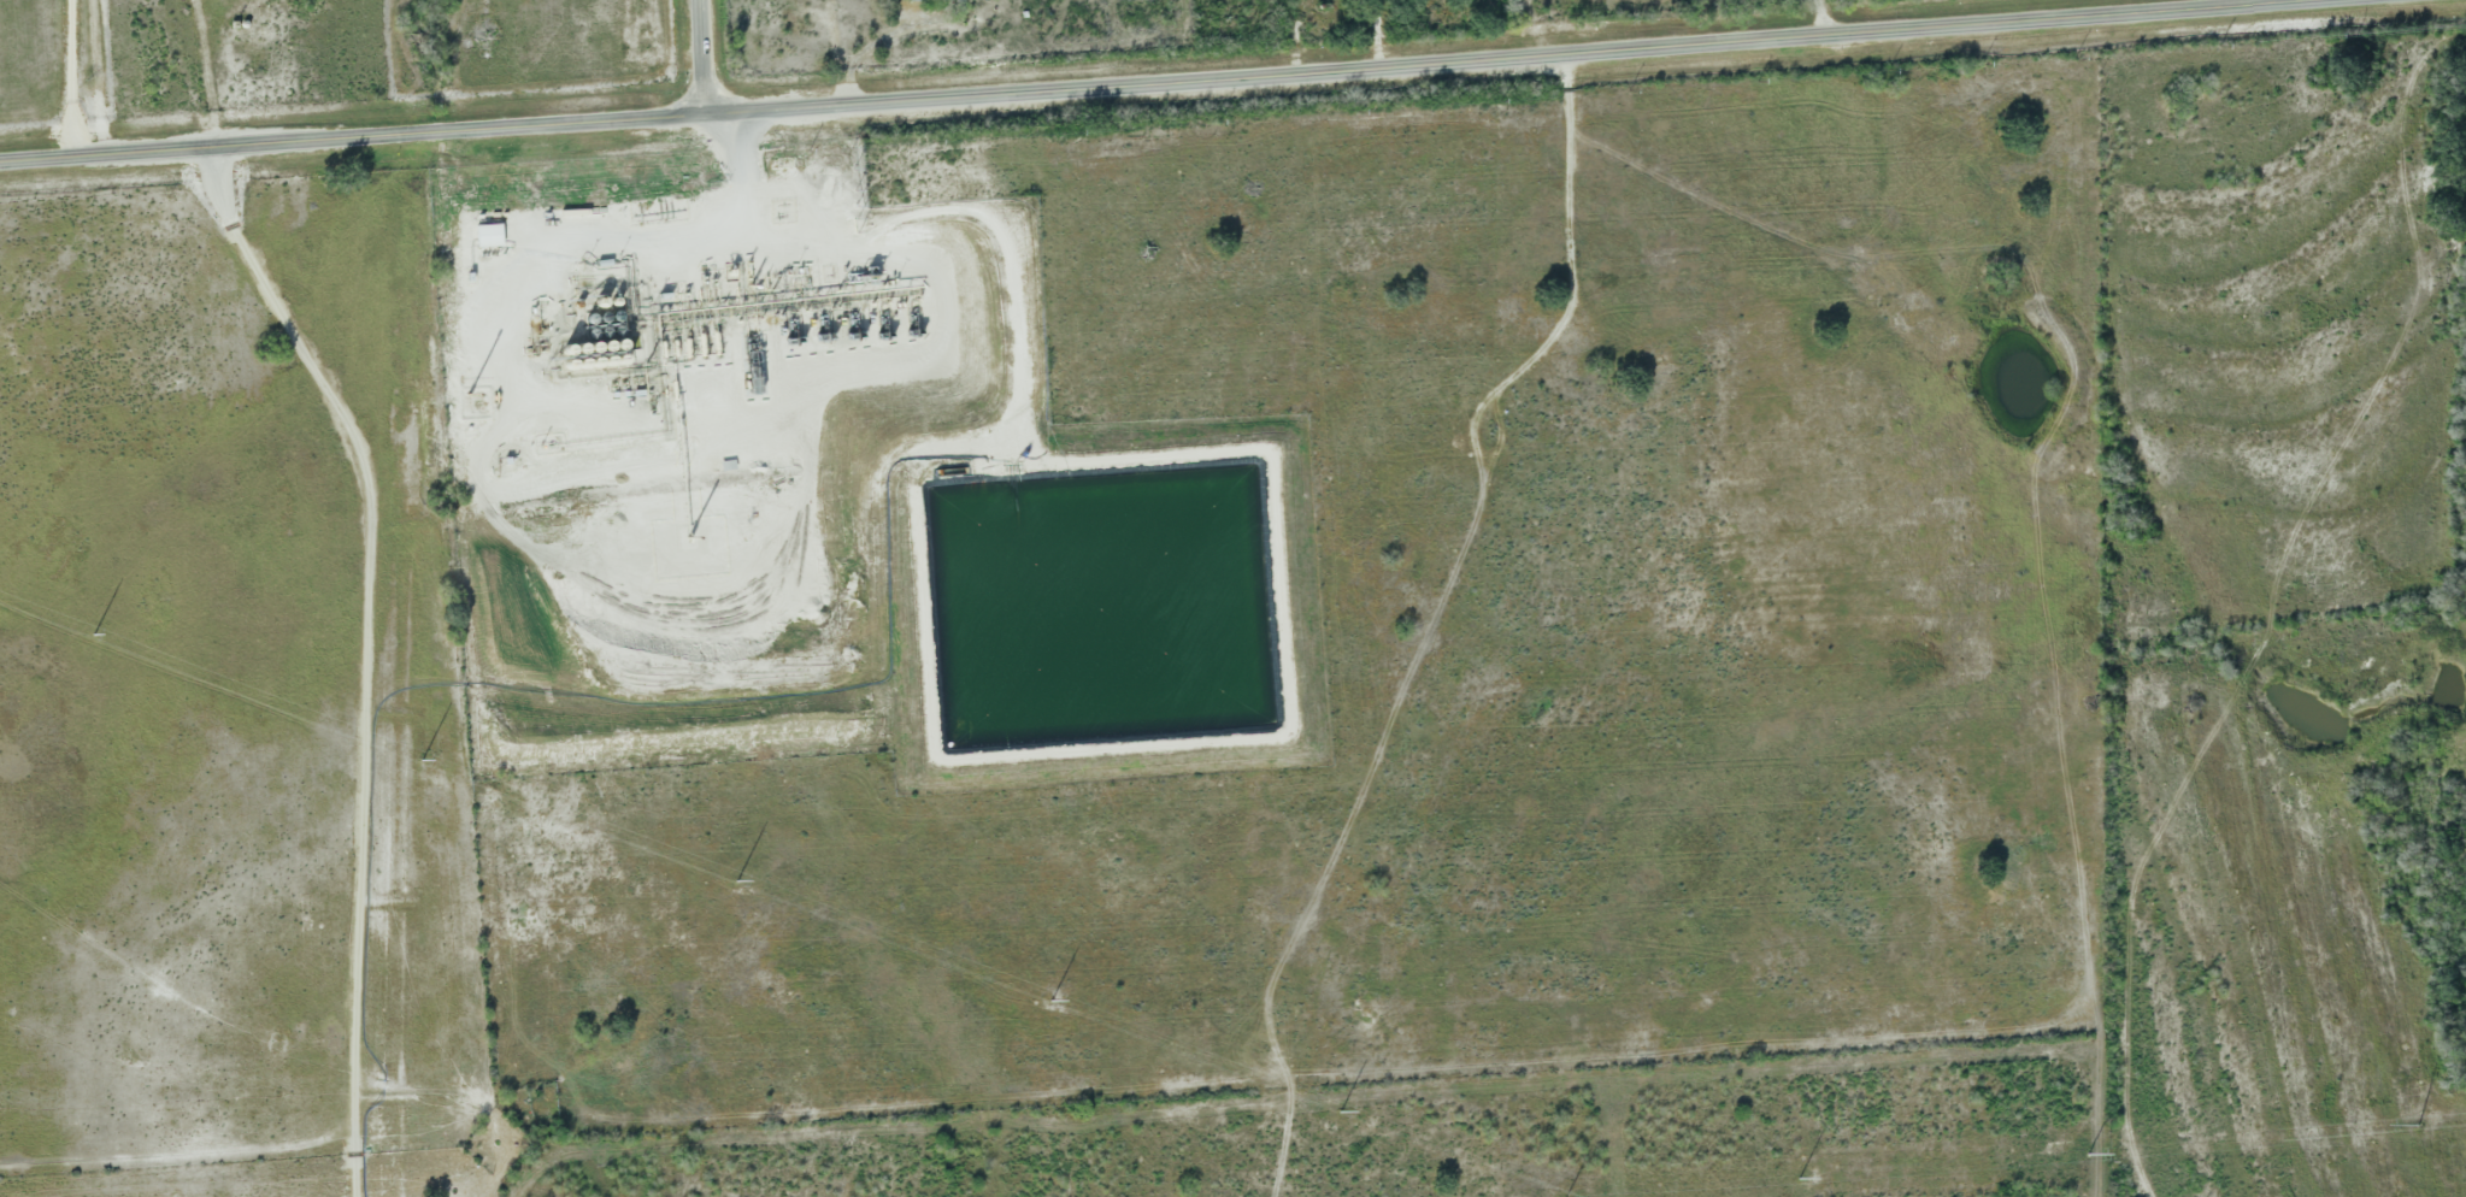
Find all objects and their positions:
building: (957, 0)
road: (1820, 13)
road: (710, 55)
road: (207, 72)
road: (71, 78)
road: (1130, 78)
power tower: (93, 633)
power tower: (422, 757)
power tower: (737, 881)
power tower: (1052, 1000)
power tower: (1340, 1110)
power tower: (2421, 1125)
power tower: (2090, 1154)
power tower: (1800, 1179)

